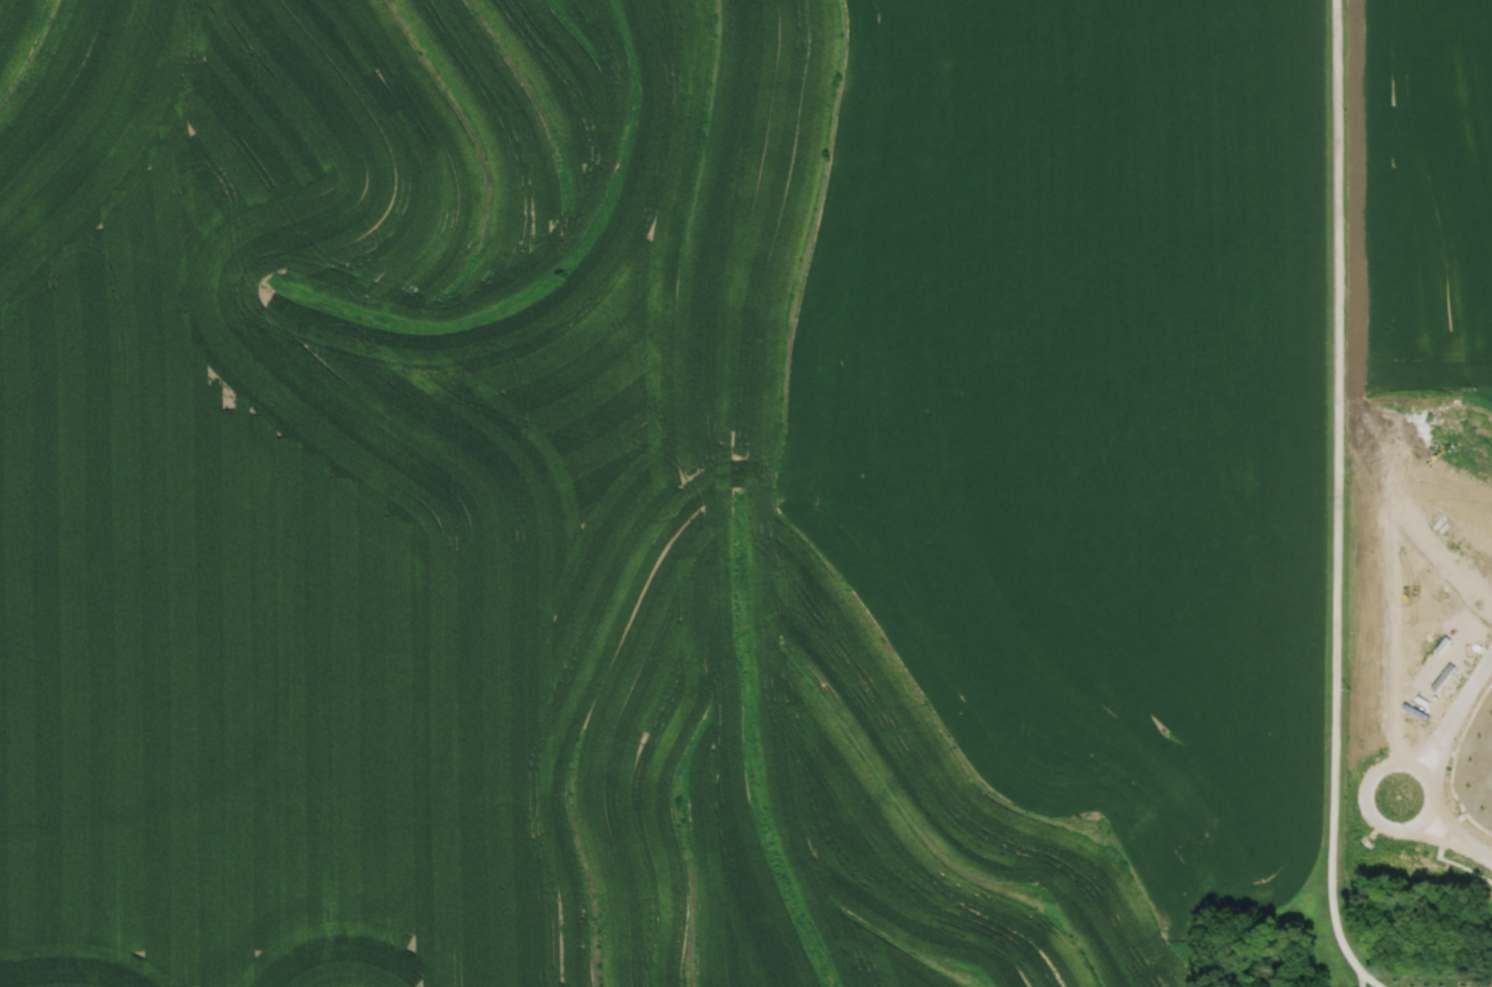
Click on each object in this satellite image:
road: (1335, 503)
road: (1471, 688)
road: (1427, 744)
road: (1438, 756)
road: (1363, 796)
road: (1450, 825)
road: (1436, 838)
road: (1485, 856)

